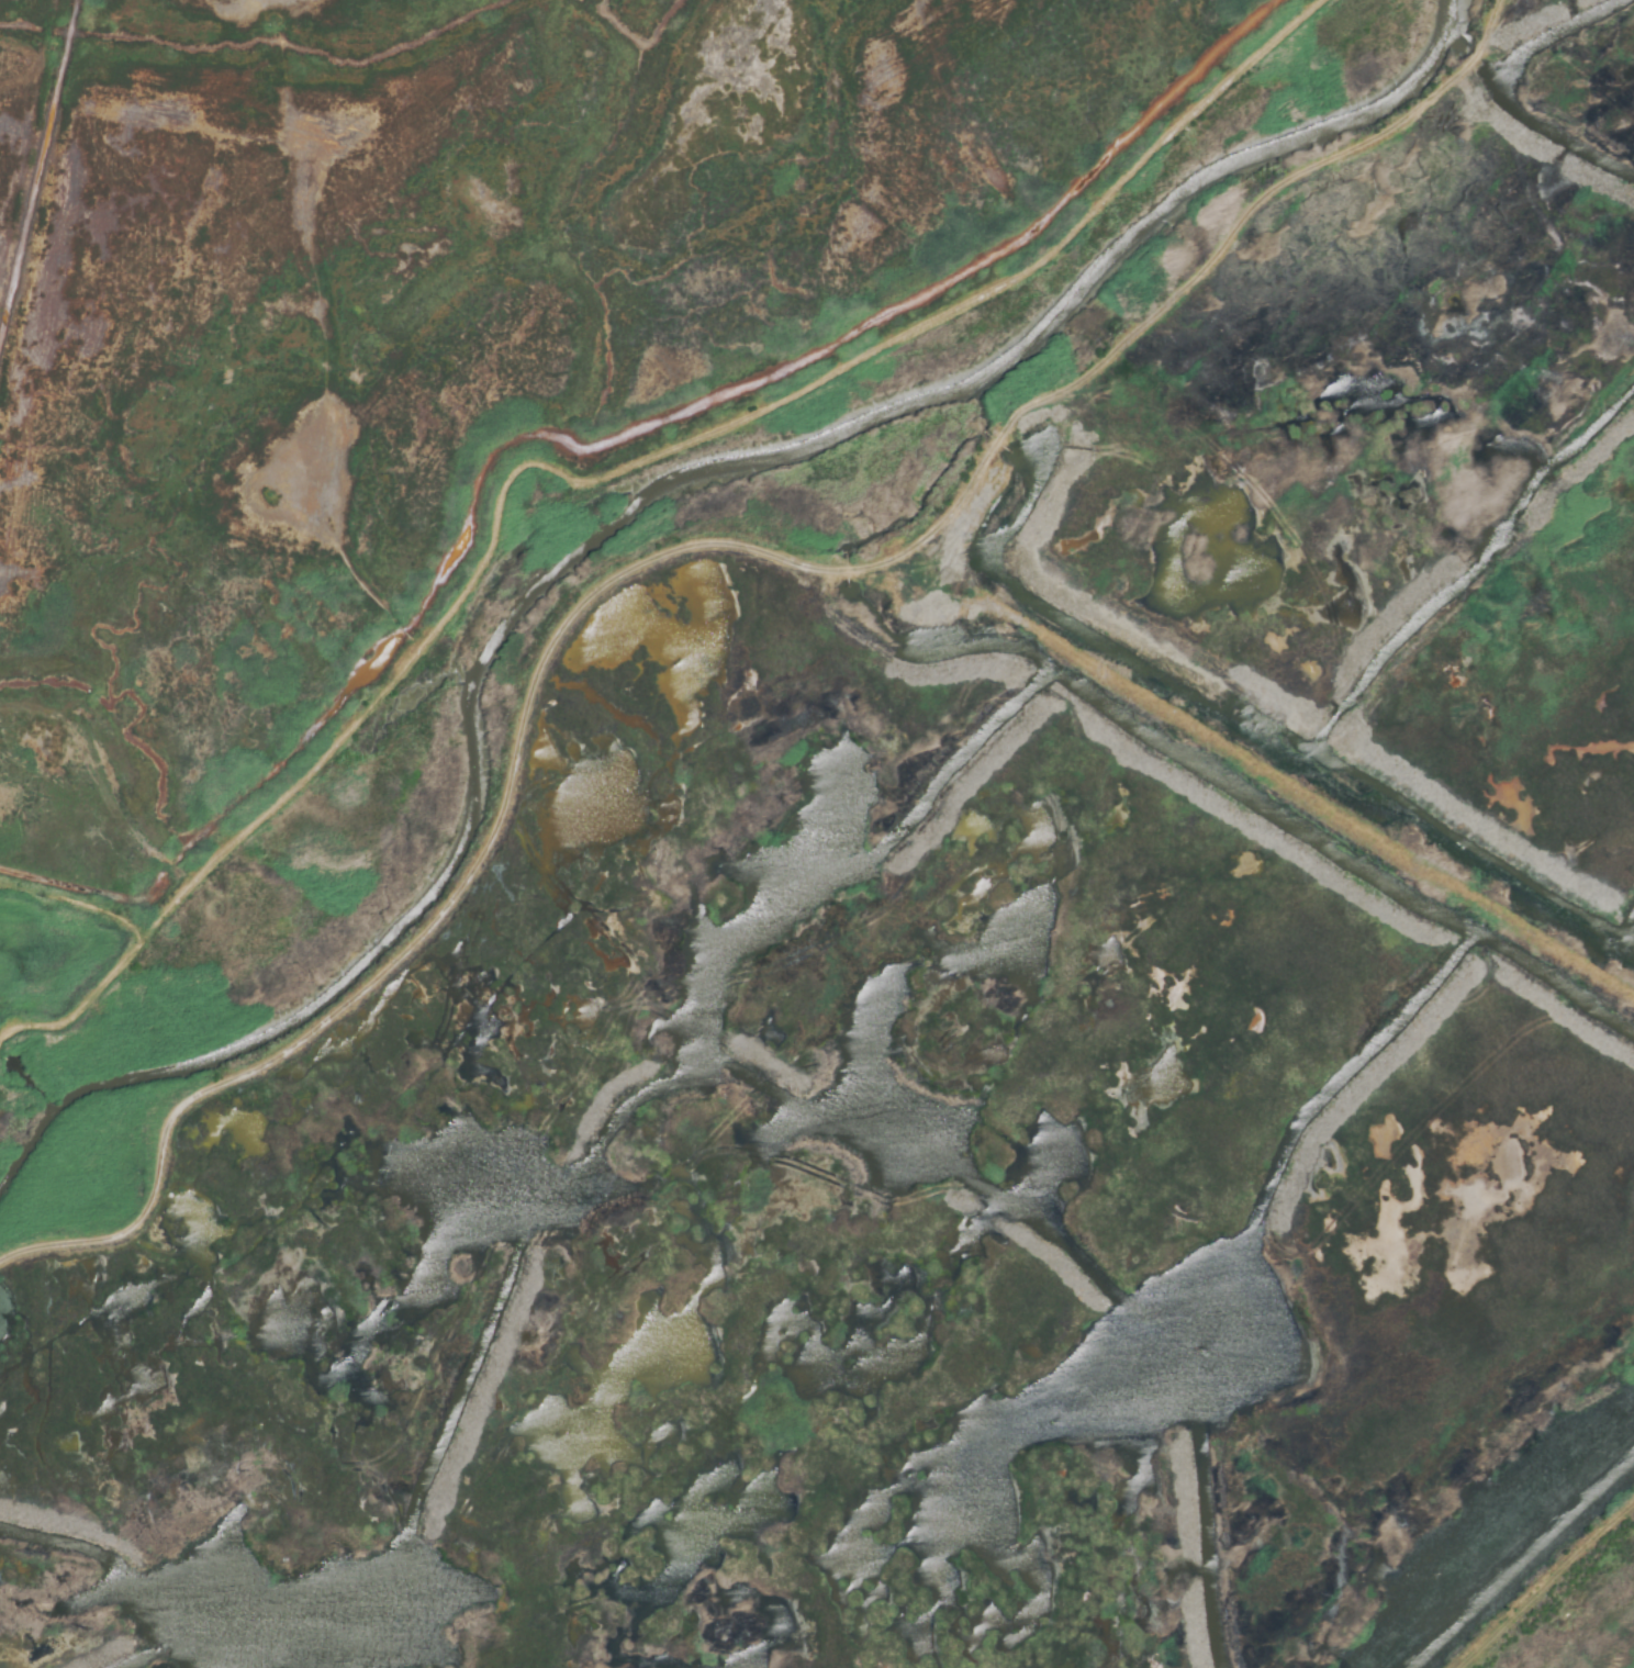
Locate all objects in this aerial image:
road: (596, 481)
road: (680, 553)
road: (396, 625)
road: (404, 634)
road: (1546, 1586)

